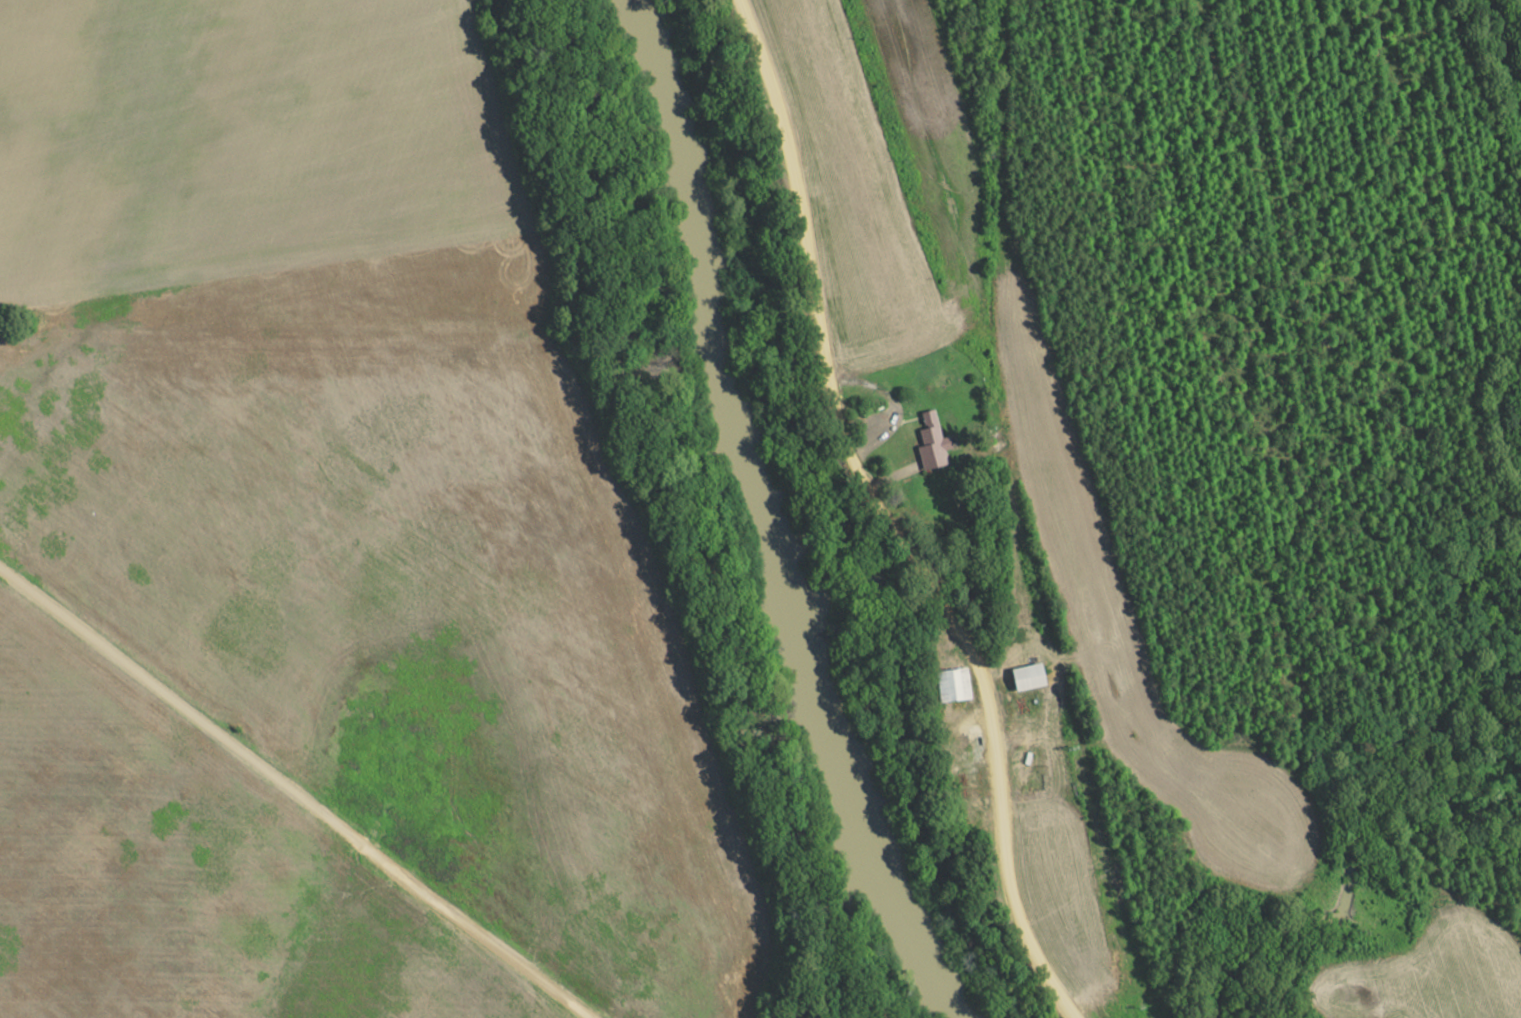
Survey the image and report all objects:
building: (930, 443)
road: (891, 518)
river: (762, 521)
building: (1024, 677)
building: (951, 685)
road: (297, 792)

